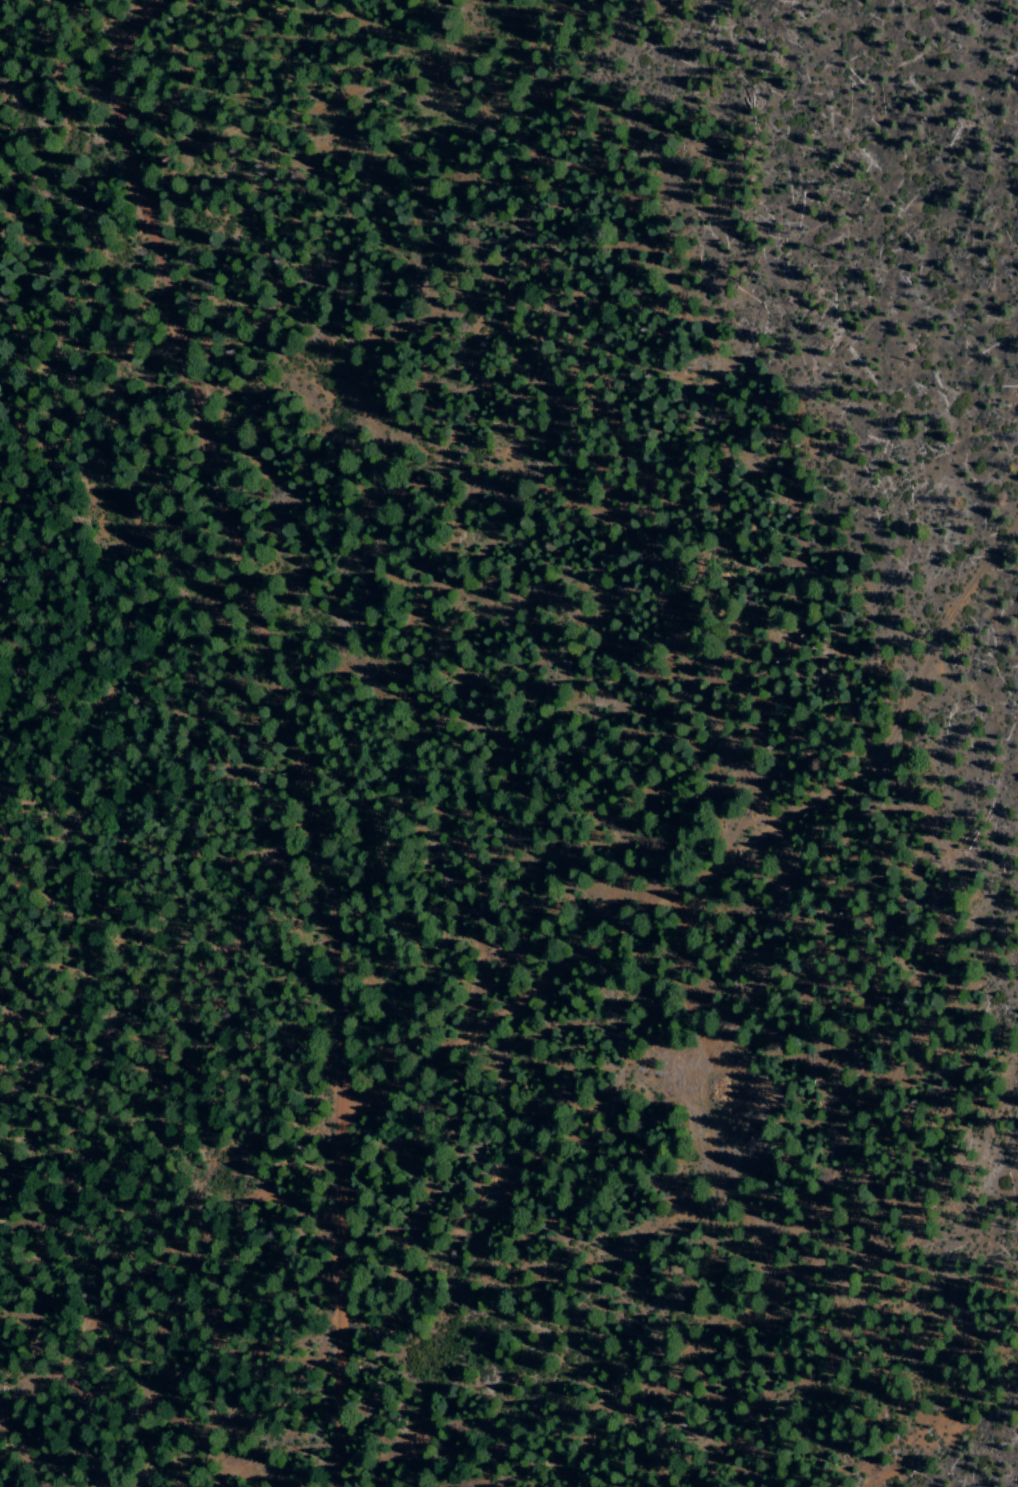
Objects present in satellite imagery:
road: (235, 545)
road: (717, 857)
road: (337, 1295)

